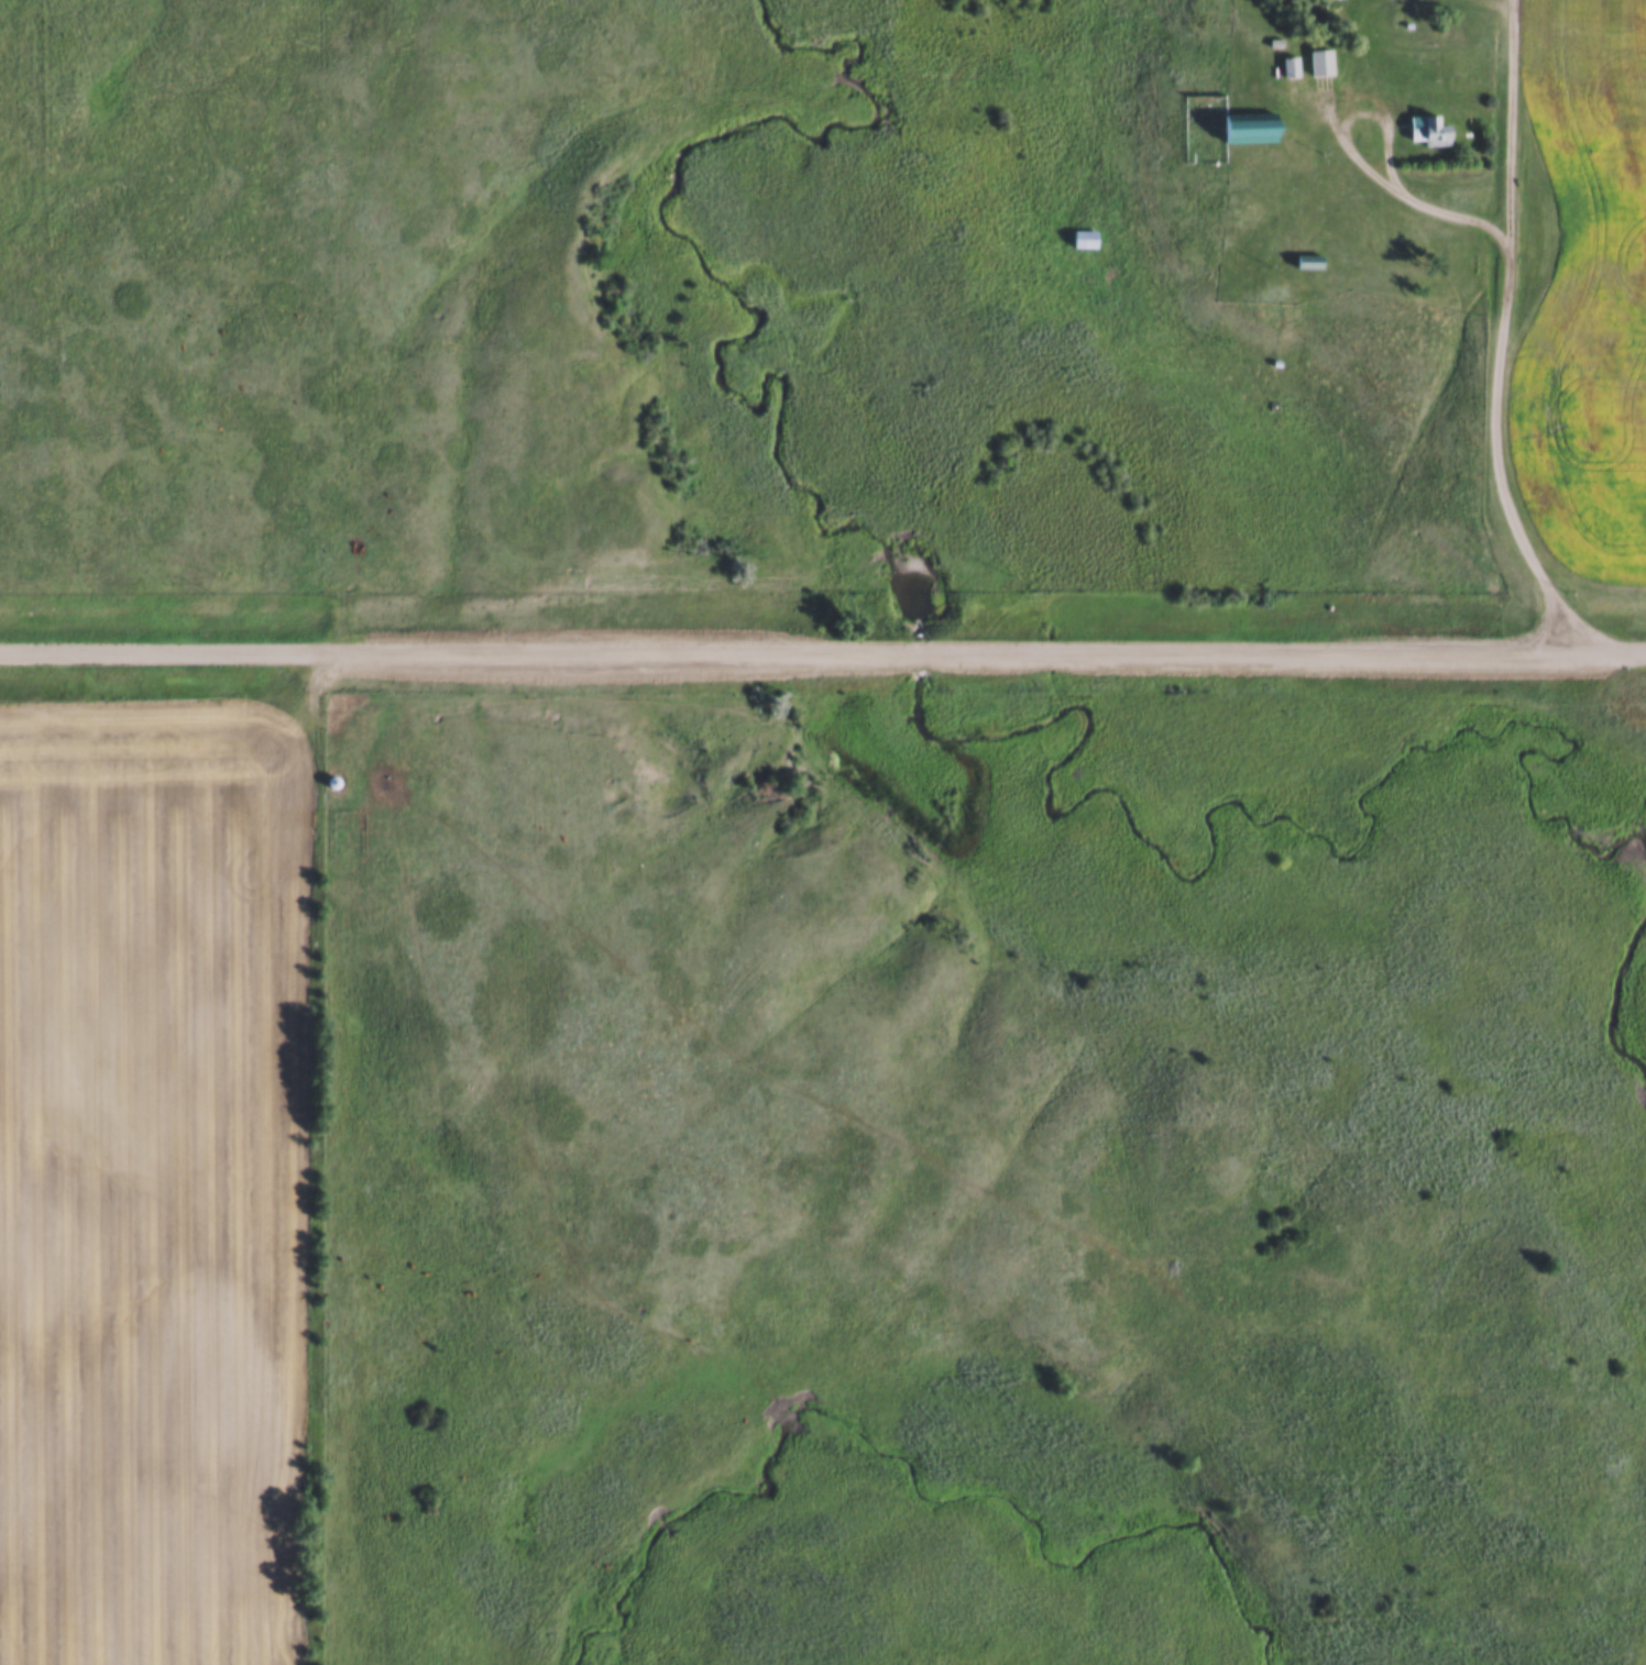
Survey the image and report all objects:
building: (1325, 63)
road: (1514, 122)
building: (1250, 129)
building: (1433, 131)
building: (1080, 240)
building: (1309, 262)
road: (1504, 320)
road: (822, 650)

